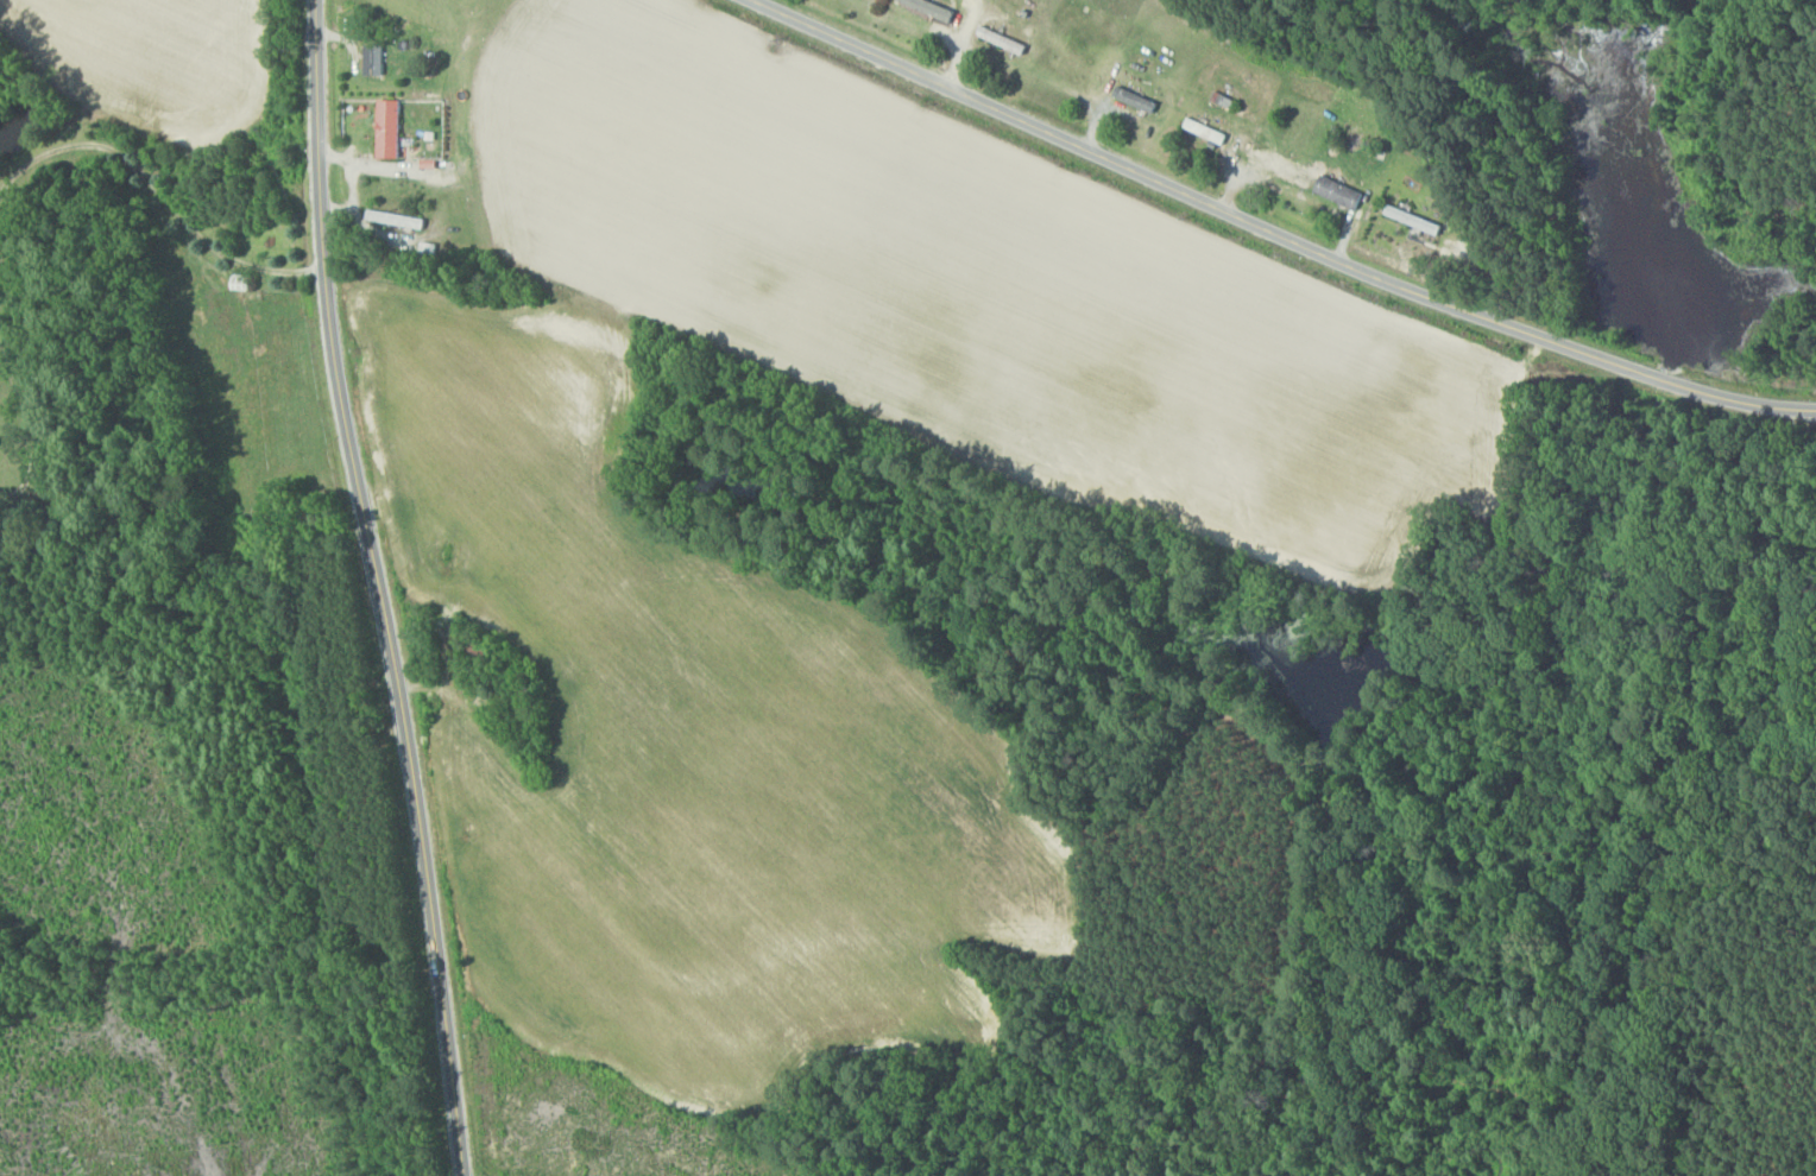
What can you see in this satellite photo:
building: (932, 10)
building: (1004, 39)
building: (377, 59)
building: (1134, 99)
building: (392, 128)
building: (1204, 131)
building: (1274, 162)
road: (401, 169)
road: (355, 184)
road: (160, 190)
building: (1337, 191)
building: (1411, 220)
road: (1274, 232)
road: (29, 426)
road: (379, 588)

